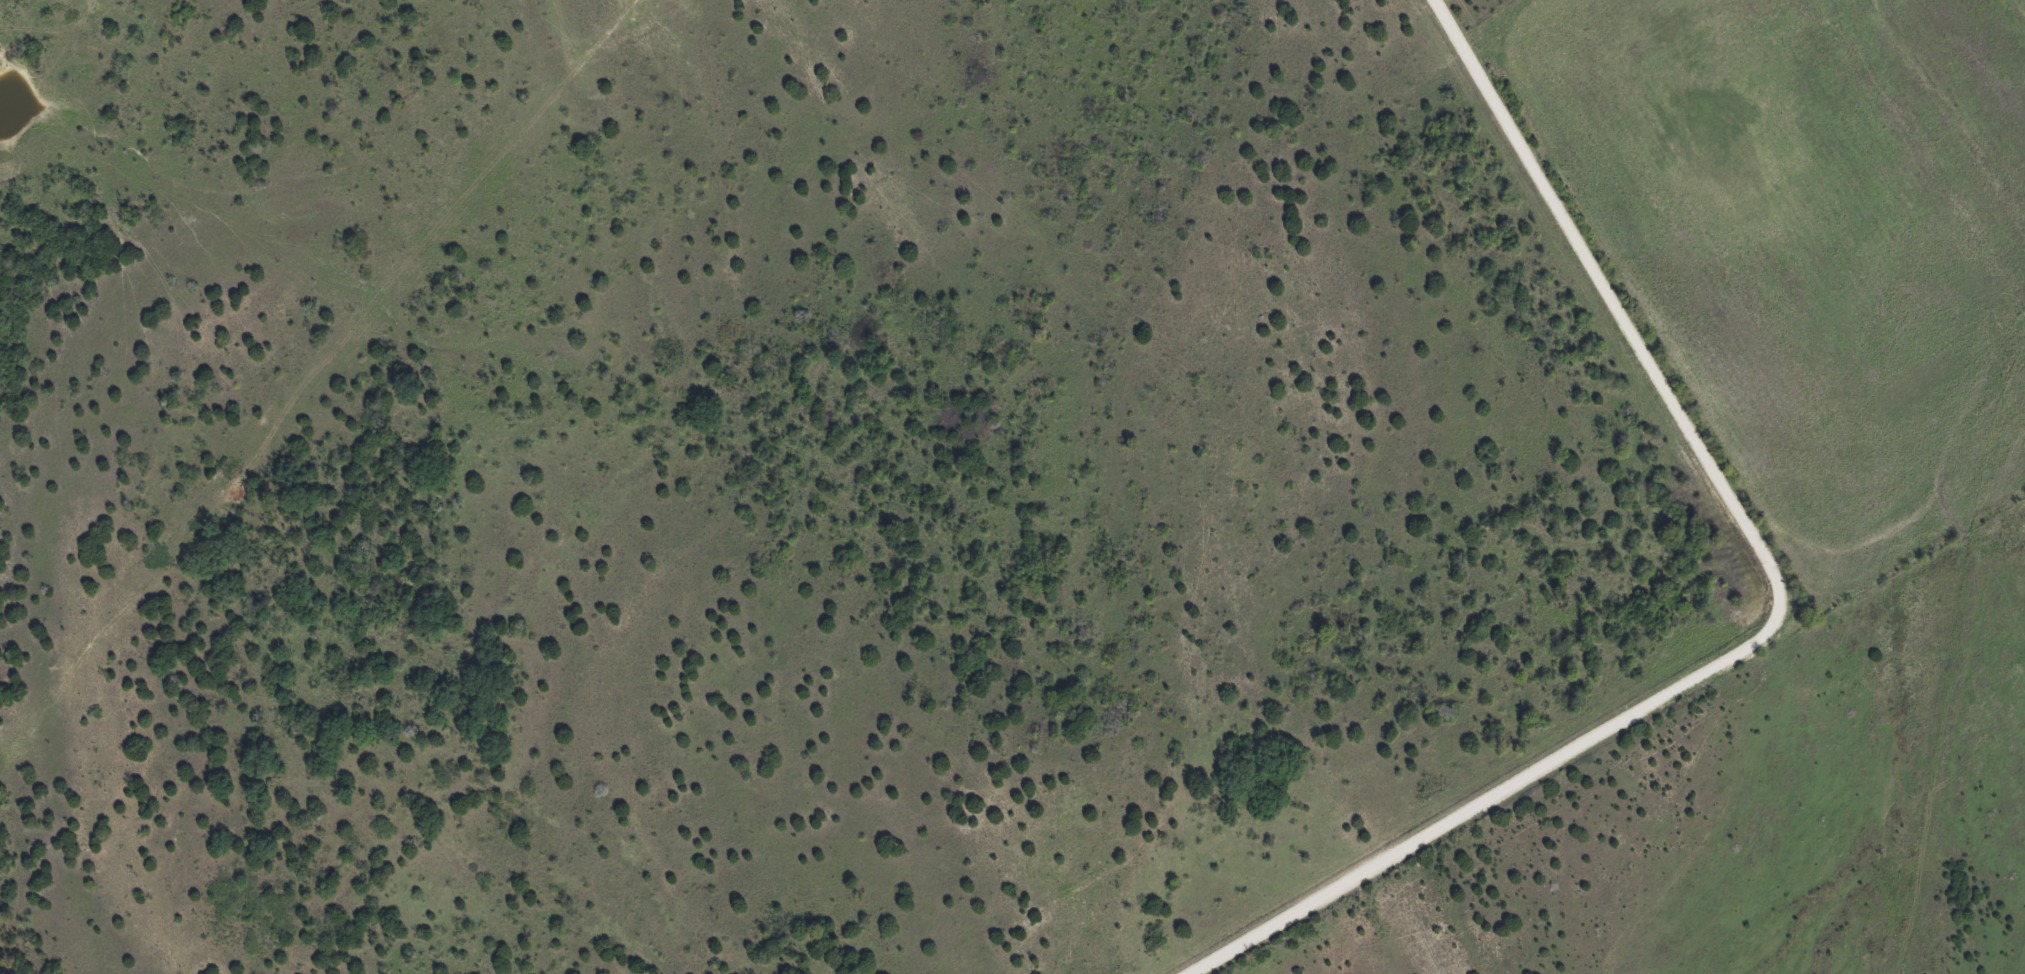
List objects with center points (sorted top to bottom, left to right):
road: (1785, 605)

